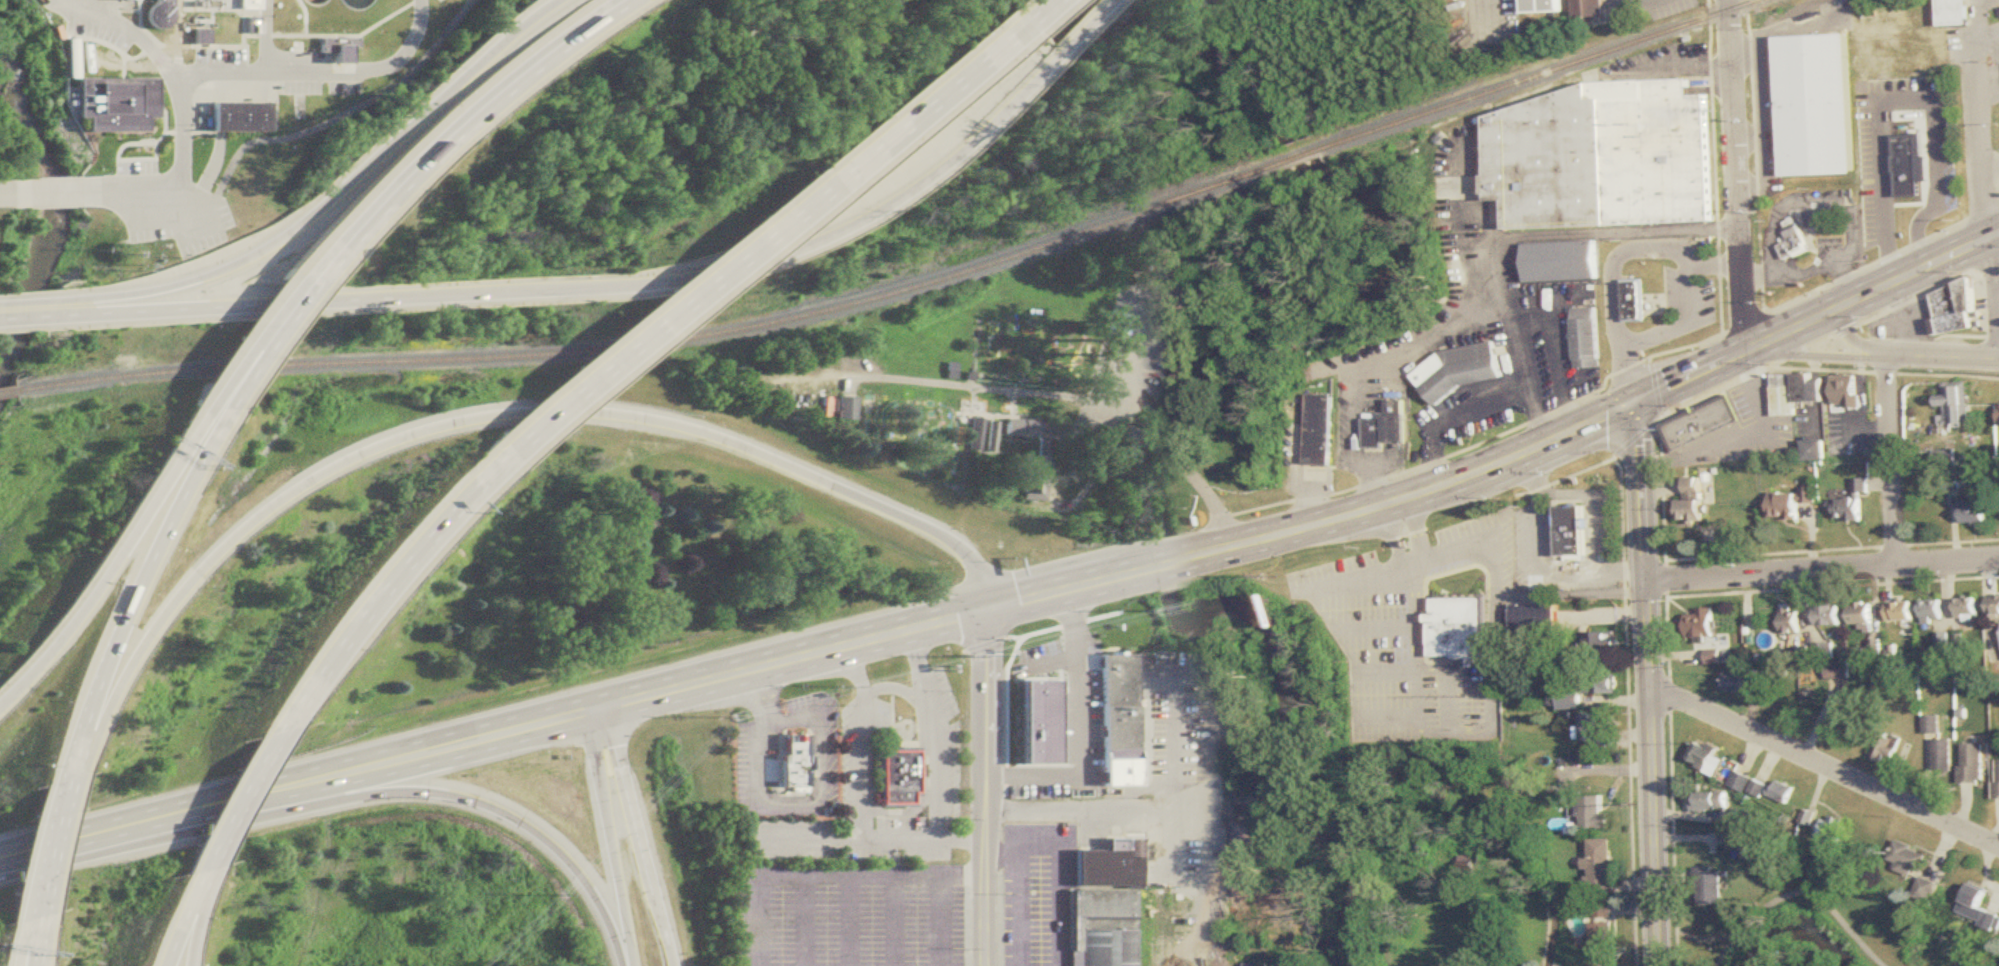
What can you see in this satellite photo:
road: (1110, 1)
road: (1642, 1)
building: (242, 5)
building: (1545, 6)
building: (1590, 8)
road: (1473, 10)
road: (1032, 11)
building: (1952, 13)
building: (151, 17)
road: (1979, 18)
road: (1072, 26)
road: (1987, 34)
building: (194, 38)
wastewater plant: (223, 56)
road: (1033, 66)
road: (161, 69)
road: (314, 72)
railway: (1541, 75)
road: (489, 97)
road: (921, 102)
road: (1906, 102)
building: (1814, 105)
building: (110, 106)
road: (339, 111)
building: (234, 119)
building: (1602, 156)
railway: (1298, 158)
building: (1907, 164)
parking lot: (1876, 165)
road: (1739, 176)
road: (1985, 188)
road: (51, 193)
road: (12, 194)
road: (323, 199)
river: (1373, 203)
road: (1810, 204)
river: (52, 205)
road: (204, 207)
parking lot: (160, 208)
road: (836, 225)
road: (339, 244)
building: (1793, 244)
road: (1616, 261)
building: (1562, 262)
road: (1807, 273)
road: (1758, 277)
railway: (931, 281)
road: (1849, 284)
road: (1928, 291)
road: (1874, 293)
road: (1998, 298)
road: (24, 301)
parking lot: (1979, 301)
road: (329, 302)
building: (1634, 302)
building: (1953, 307)
road: (660, 314)
road: (24, 316)
parking lot: (1904, 323)
road: (1682, 325)
road: (1847, 330)
road: (1966, 336)
building: (1587, 338)
road: (1904, 338)
road: (1853, 340)
road: (260, 342)
road: (1822, 342)
road: (1429, 344)
road: (234, 353)
road: (1817, 353)
road: (1793, 355)
road: (1559, 356)
road: (1942, 357)
railway: (291, 368)
building: (1460, 371)
road: (1103, 374)
road: (1613, 375)
road: (1695, 376)
road: (1655, 386)
road: (973, 387)
road: (1717, 389)
building: (1816, 391)
building: (1845, 391)
building: (1789, 393)
road: (1816, 393)
railway: (3, 394)
traffic signals: (1641, 401)
building: (1954, 402)
building: (845, 409)
road: (490, 417)
road: (1454, 421)
parking lot: (1802, 423)
building: (1700, 424)
building: (1019, 427)
building: (1388, 427)
parking lot: (1755, 427)
road: (1869, 427)
building: (1320, 429)
road: (1636, 437)
road: (1558, 439)
parking lot: (1843, 440)
building: (1813, 450)
river: (1168, 457)
road: (1889, 461)
building: (1028, 474)
road: (1537, 476)
road: (1568, 477)
road: (1646, 491)
building: (1691, 500)
road: (138, 501)
building: (1790, 503)
building: (1851, 503)
road: (1317, 505)
river: (1147, 511)
building: (1975, 511)
road: (1328, 524)
road: (1416, 528)
building: (1571, 532)
road: (1393, 536)
road: (1165, 565)
road: (1825, 572)
river: (1163, 574)
road: (1597, 576)
road: (1358, 583)
road: (376, 584)
road: (124, 589)
road: (1067, 589)
building: (1994, 605)
building: (1967, 606)
traffic signals: (985, 609)
building: (1900, 612)
building: (1932, 612)
building: (1861, 614)
road: (1100, 616)
building: (1828, 616)
building: (1790, 619)
road: (1070, 622)
building: (1700, 624)
road: (1375, 628)
building: (1459, 628)
parking lot: (1419, 633)
road: (868, 637)
road: (1012, 637)
road: (983, 644)
building: (1599, 645)
road: (43, 647)
parking lot: (1036, 651)
building: (1712, 657)
road: (1049, 661)
building: (1836, 670)
road: (1387, 673)
road: (1004, 679)
building: (1734, 683)
building: (1599, 685)
road: (1449, 686)
road: (671, 687)
road: (892, 688)
building: (1564, 701)
building: (1115, 703)
road: (985, 708)
road: (1493, 714)
road: (1388, 718)
building: (1848, 720)
building: (1036, 721)
road: (1077, 729)
road: (932, 732)
building: (1595, 732)
parking lot: (897, 735)
road: (860, 741)
road: (437, 747)
river: (1287, 748)
building: (1885, 749)
building: (1943, 756)
building: (789, 757)
parking lot: (828, 757)
building: (1705, 759)
building: (1974, 763)
road: (1825, 765)
parking lot: (739, 766)
road: (1653, 774)
building: (896, 776)
building: (1998, 779)
road: (920, 782)
building: (1748, 785)
building: (1783, 793)
road: (810, 797)
road: (231, 799)
building: (1710, 802)
road: (783, 806)
road: (489, 810)
road: (1140, 810)
building: (1594, 814)
building: (1743, 819)
road: (141, 822)
river: (1487, 824)
building: (1830, 832)
road: (635, 835)
road: (608, 837)
road: (868, 840)
road: (985, 842)
road: (37, 844)
building: (1748, 844)
building: (1907, 859)
building: (1600, 869)
road: (805, 877)
road: (963, 877)
building: (1709, 887)
building: (1925, 890)
road: (1800, 891)
road: (1023, 895)
parking lot: (1038, 895)
building: (1103, 905)
building: (1977, 908)
parking lot: (850, 915)
road: (175, 916)
road: (187, 921)
road: (941, 921)
road: (985, 922)
building: (1603, 926)
river: (1801, 929)
park: (1784, 930)
road: (23, 938)
road: (1708, 939)
road: (17, 946)
road: (1678, 947)
building: (1256, 965)

